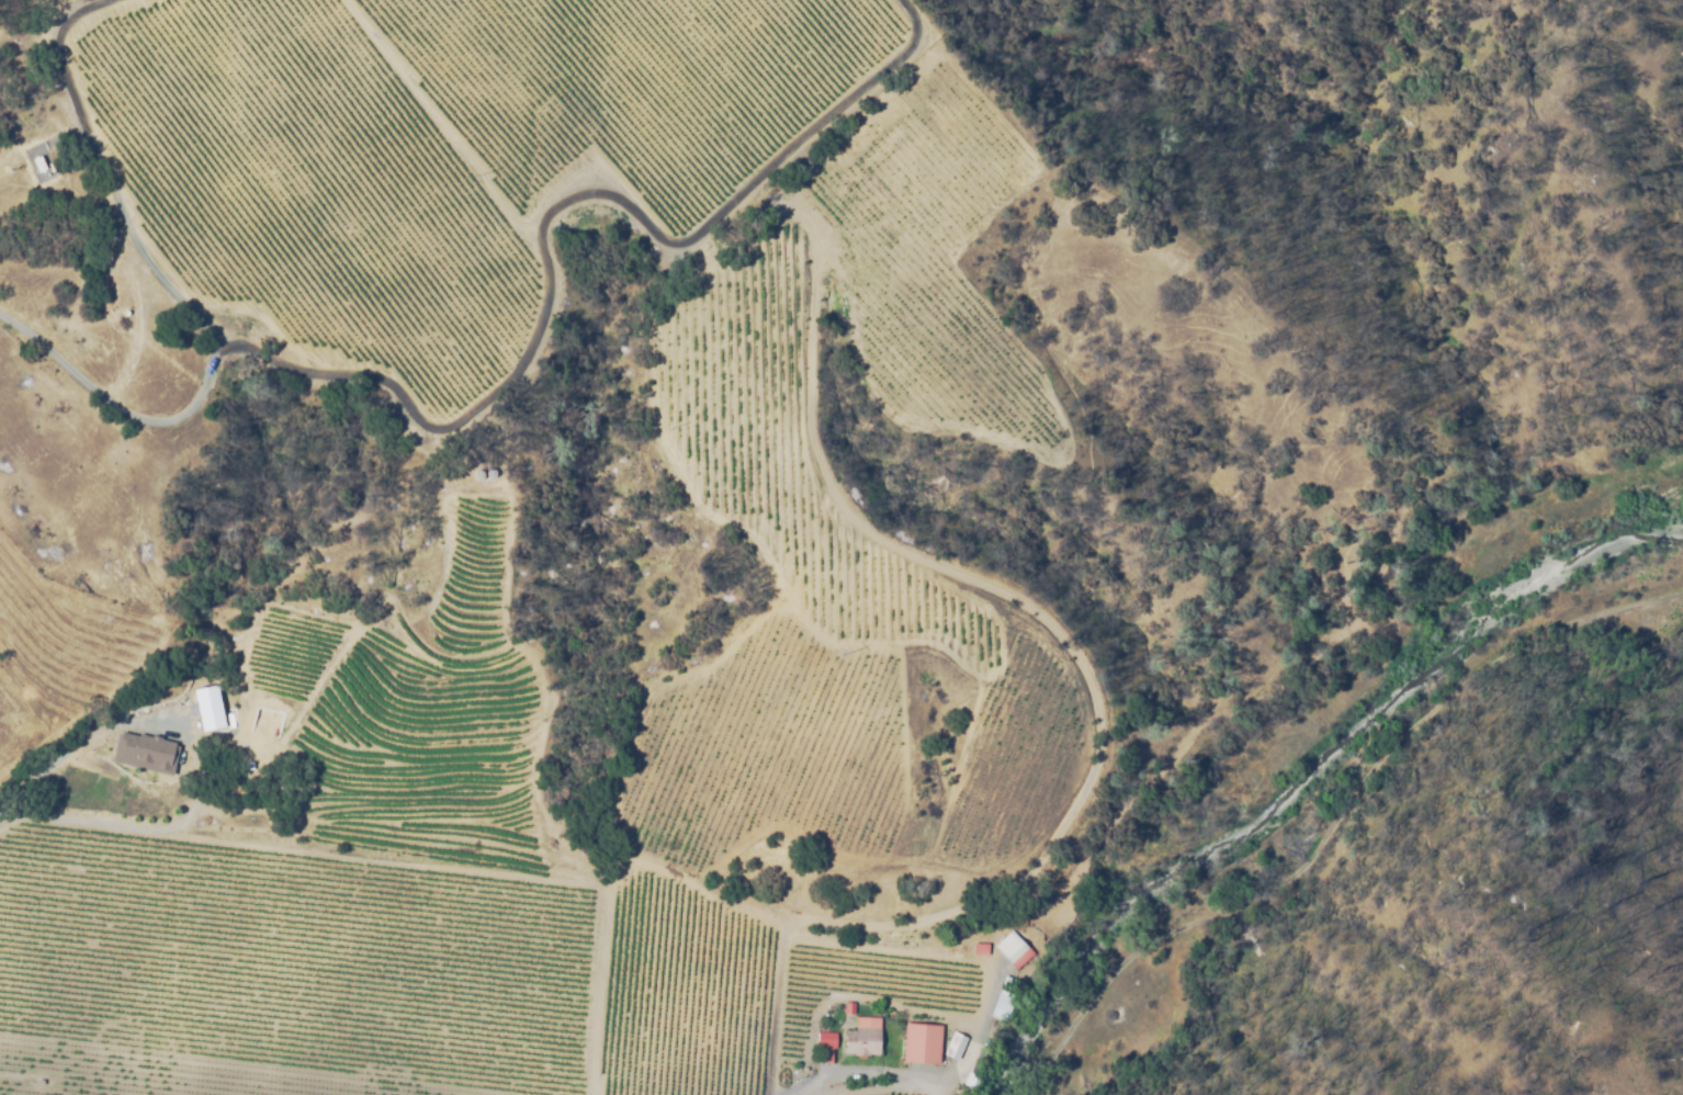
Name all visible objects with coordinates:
building: (38, 162)
building: (489, 472)
building: (477, 473)
building: (268, 719)
building: (148, 750)
building: (260, 750)
road: (199, 765)
building: (981, 950)
building: (1014, 950)
building: (1008, 984)
building: (849, 1009)
building: (920, 1038)
building: (860, 1040)
building: (826, 1041)
building: (956, 1047)
road: (931, 1077)
building: (971, 1082)
building: (41, 1083)
building: (960, 1094)

